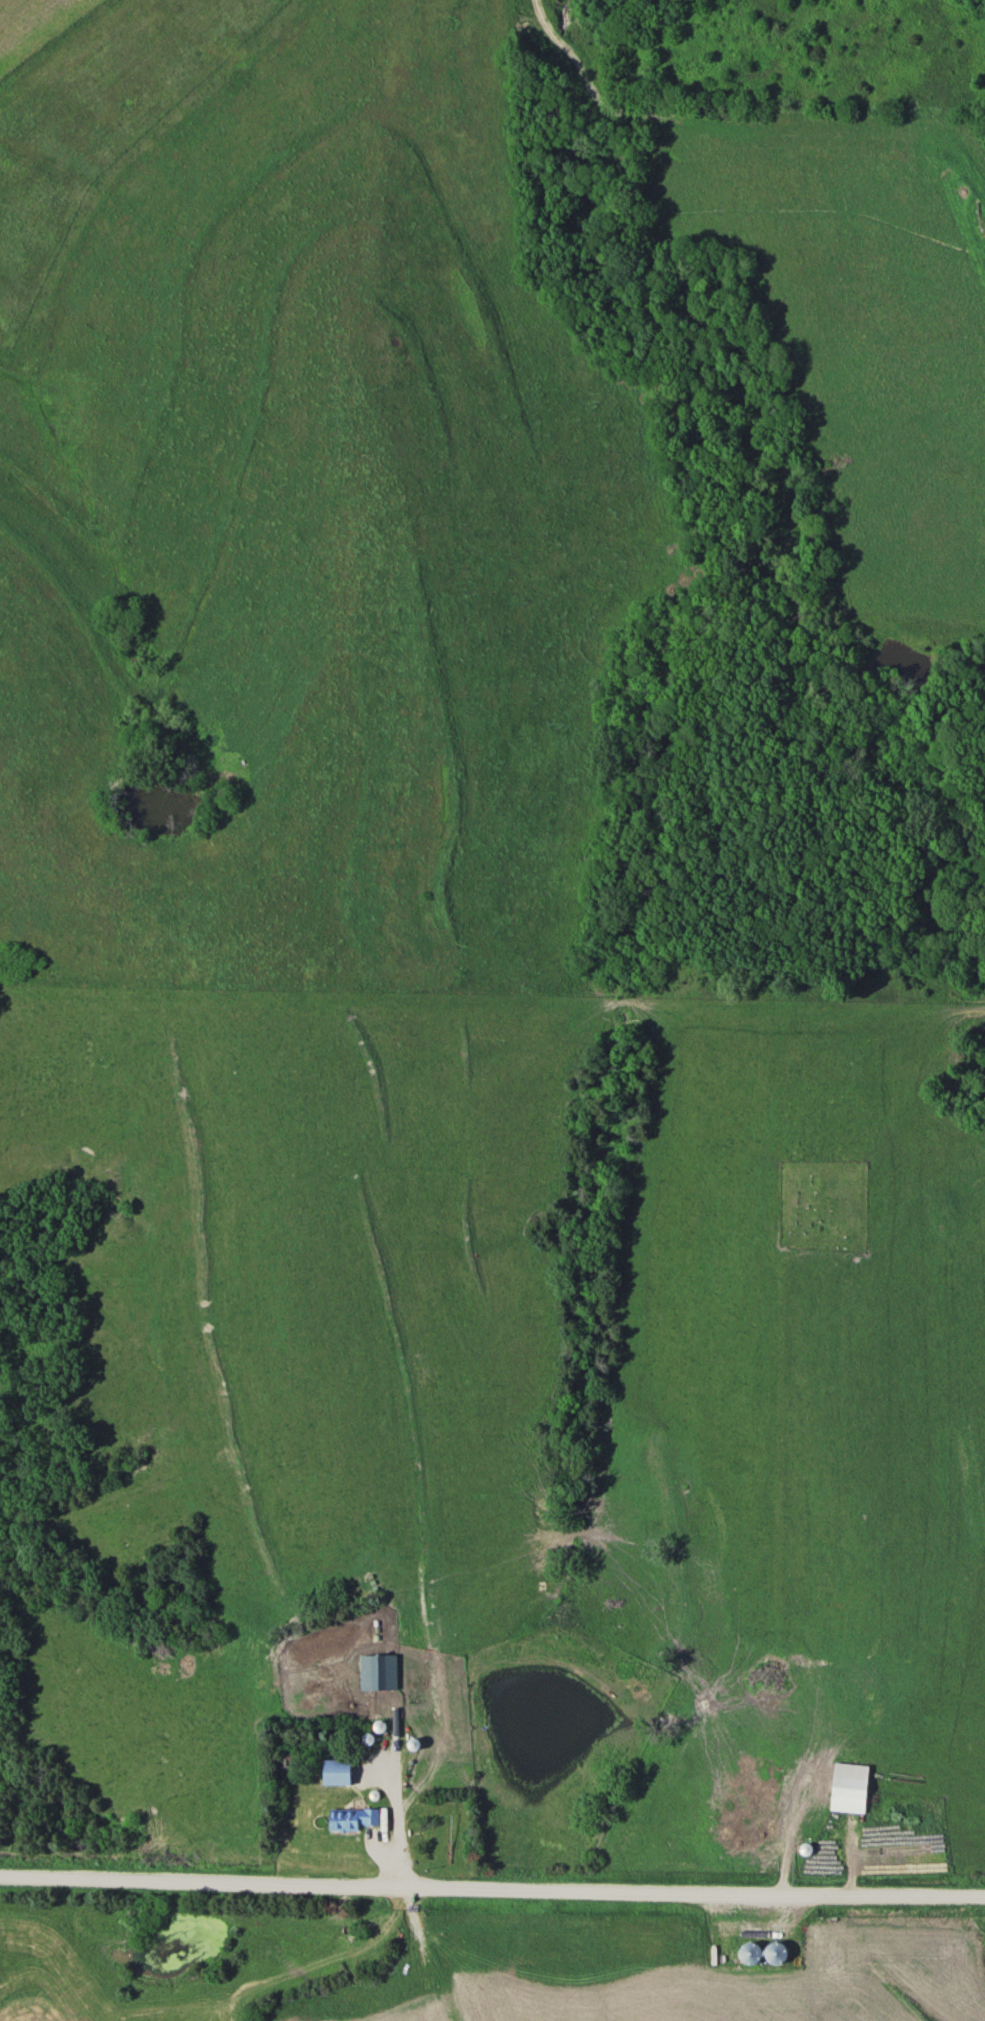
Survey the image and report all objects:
park: (820, 1203)
building: (375, 1671)
building: (330, 1770)
building: (846, 1786)
road: (492, 1887)

